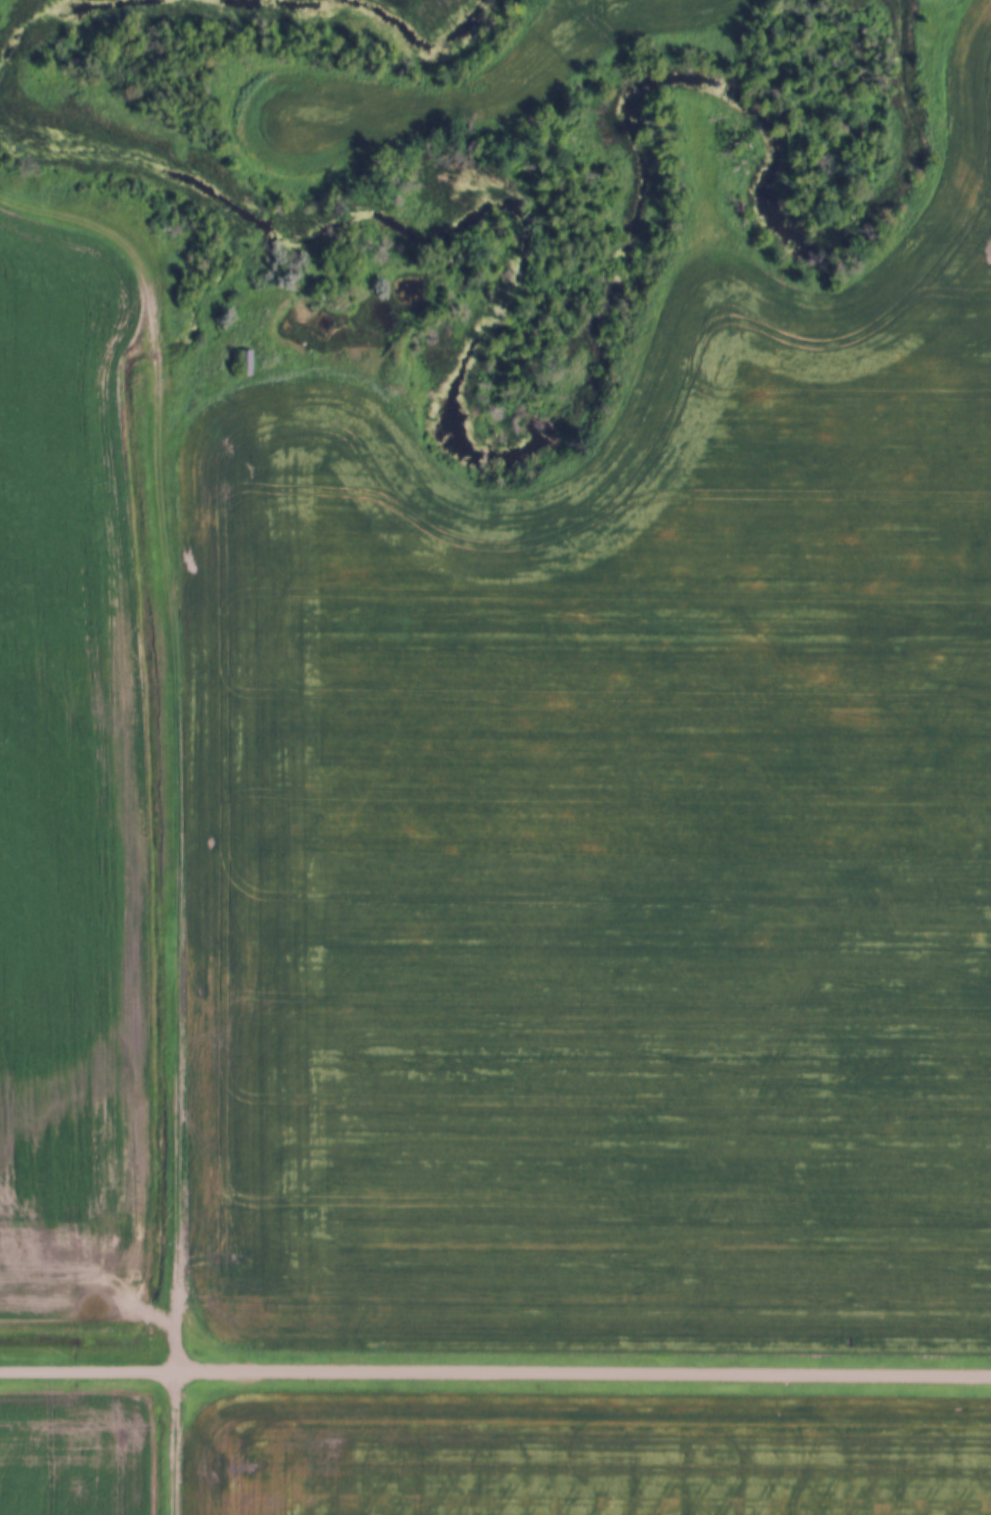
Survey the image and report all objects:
building: (244, 361)
road: (178, 734)
road: (495, 1373)

